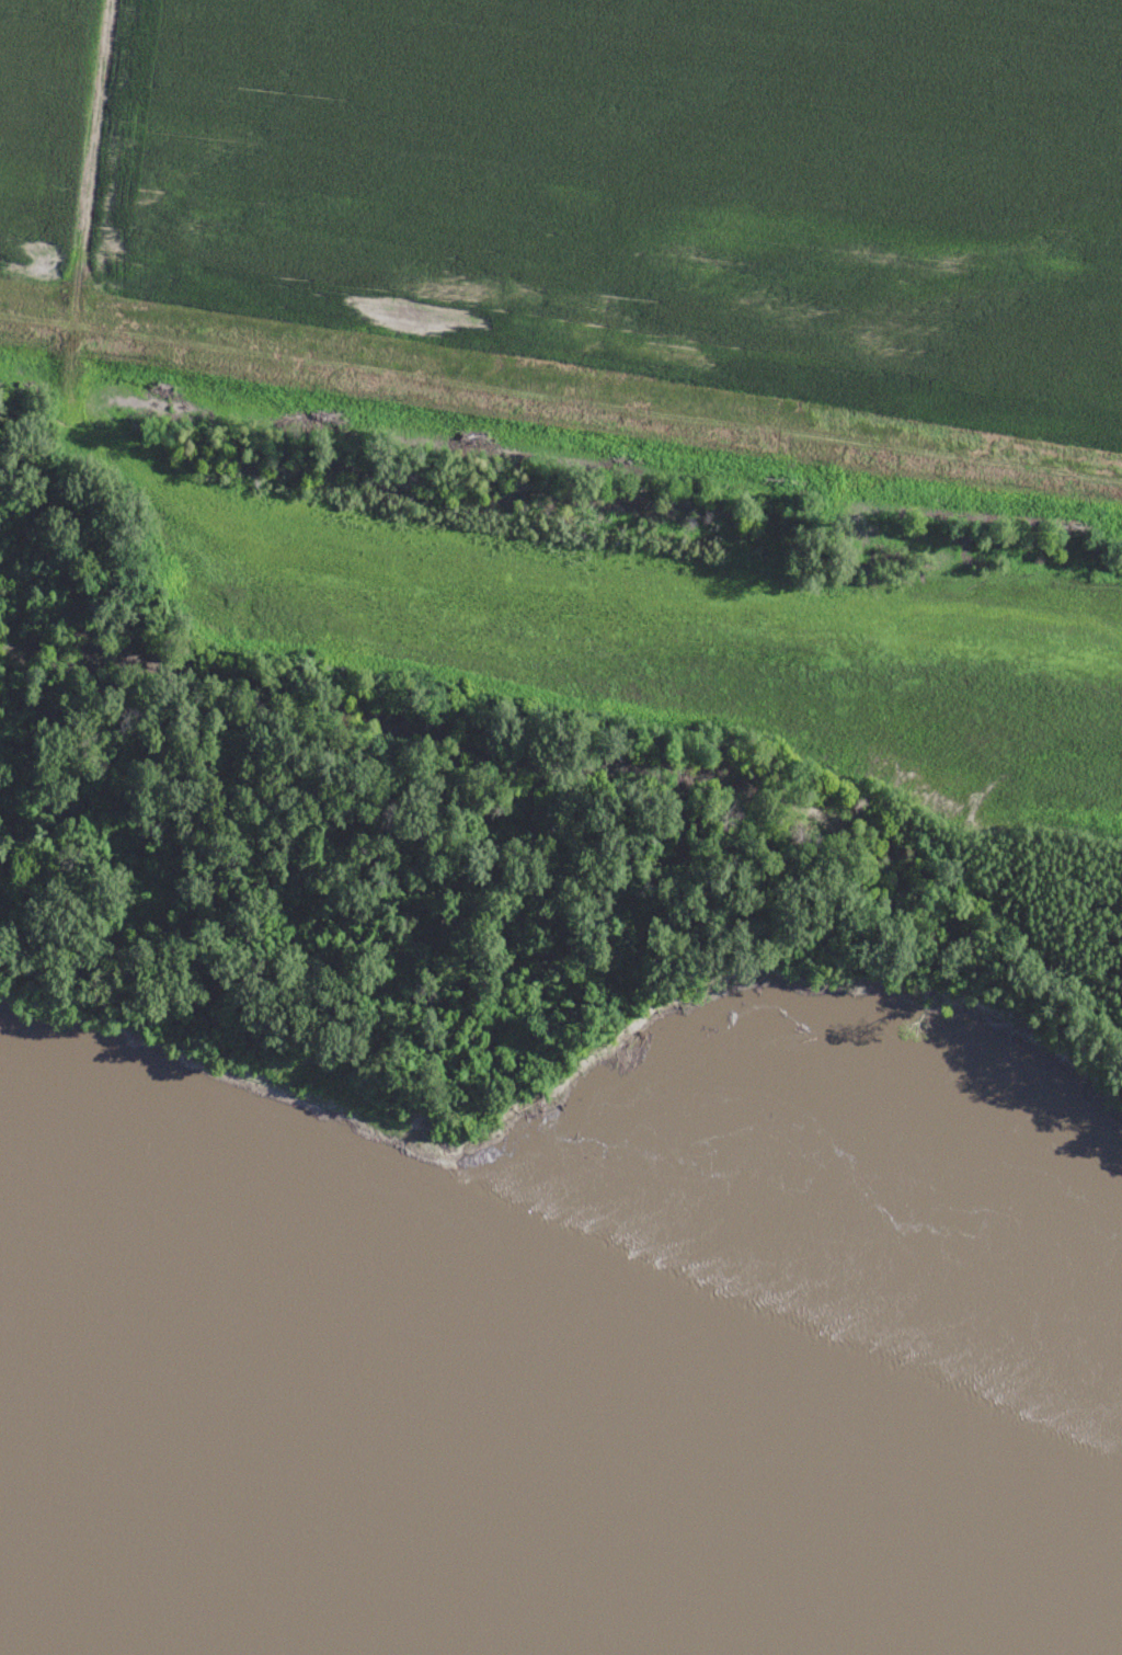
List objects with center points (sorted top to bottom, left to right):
crop: (41, 130)
crop: (651, 187)
road: (83, 249)
crop: (695, 648)
river: (243, 1570)

